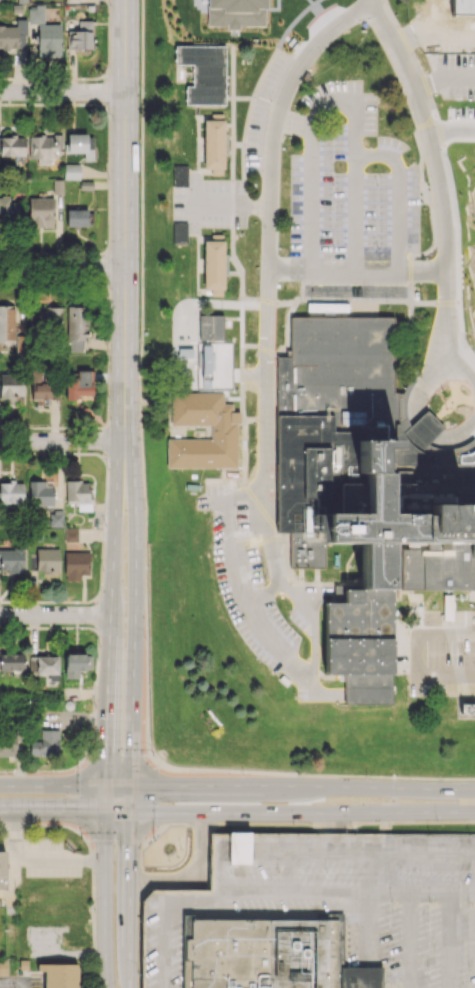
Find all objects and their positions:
building: (71, 0)
street lamp: (386, 1)
street lamp: (108, 5)
street lamp: (463, 10)
road: (428, 17)
building: (45, 33)
road: (447, 34)
building: (13, 36)
building: (80, 36)
road: (405, 39)
road: (283, 45)
parking lot: (453, 50)
street lamp: (320, 56)
road: (415, 64)
road: (233, 72)
building: (203, 74)
road: (442, 78)
street lamp: (393, 80)
street lamp: (139, 90)
road: (62, 92)
road: (243, 99)
street lamp: (268, 100)
road: (459, 102)
parking lot: (267, 112)
street lamp: (379, 119)
road: (232, 121)
road: (247, 122)
road: (451, 130)
road: (311, 142)
building: (215, 143)
building: (80, 145)
road: (238, 145)
building: (12, 146)
building: (42, 149)
street lamp: (287, 155)
road: (232, 162)
road: (243, 162)
building: (71, 171)
building: (180, 175)
street lamp: (423, 175)
street lamp: (108, 178)
street lamp: (332, 184)
street lamp: (376, 184)
road: (440, 185)
building: (57, 186)
road: (142, 188)
road: (400, 196)
parking lot: (350, 202)
parking lot: (209, 203)
road: (232, 203)
road: (221, 207)
street lamp: (424, 207)
building: (8, 209)
building: (40, 212)
road: (355, 215)
building: (76, 217)
road: (124, 220)
building: (179, 233)
street lamp: (331, 245)
street lamp: (376, 246)
street lamp: (432, 251)
street lamp: (256, 259)
road: (237, 263)
building: (215, 264)
street lamp: (139, 266)
road: (62, 267)
road: (267, 274)
road: (357, 274)
road: (410, 289)
street lamp: (300, 300)
road: (269, 301)
road: (353, 304)
street lamp: (386, 307)
building: (49, 319)
building: (6, 323)
road: (241, 323)
street lamp: (427, 325)
building: (211, 326)
building: (76, 327)
road: (411, 340)
road: (285, 347)
street lamp: (108, 354)
street lamp: (253, 358)
parking lot: (204, 373)
road: (159, 377)
road: (222, 377)
road: (242, 384)
building: (11, 385)
building: (78, 386)
building: (405, 405)
flagpole: (445, 407)
street lamp: (142, 409)
building: (332, 410)
road: (416, 412)
road: (255, 420)
building: (224, 434)
building: (417, 434)
road: (61, 440)
street lamp: (253, 443)
road: (245, 450)
building: (446, 453)
street lamp: (105, 468)
road: (226, 480)
street lamp: (237, 485)
building: (11, 492)
building: (40, 493)
road: (246, 493)
building: (78, 494)
road: (216, 501)
road: (260, 506)
street lamp: (144, 508)
street lamp: (209, 513)
road: (251, 513)
building: (55, 518)
road: (113, 527)
street lamp: (239, 529)
road: (260, 533)
building: (69, 534)
road: (232, 551)
street lamp: (286, 555)
building: (391, 555)
building: (47, 559)
building: (11, 560)
building: (76, 564)
road: (146, 565)
street lamp: (101, 568)
street lamp: (312, 578)
street lamp: (266, 579)
parking lot: (250, 582)
road: (286, 588)
street lamp: (217, 593)
road: (265, 593)
road: (302, 594)
road: (323, 595)
street lamp: (470, 604)
road: (302, 607)
road: (313, 607)
building: (447, 607)
road: (133, 612)
road: (55, 615)
street lamp: (290, 623)
road: (423, 633)
street lamp: (145, 638)
road: (275, 645)
road: (314, 647)
street lamp: (462, 651)
parking lot: (442, 653)
building: (12, 661)
street lamp: (257, 661)
building: (76, 664)
building: (47, 666)
road: (445, 677)
street lamp: (293, 692)
road: (320, 696)
road: (105, 699)
street lamp: (94, 705)
building: (45, 743)
building: (7, 745)
traffic signals: (105, 753)
street lamp: (154, 754)
street lamp: (78, 758)
road: (310, 774)
street lamp: (242, 775)
street lamp: (366, 779)
road: (52, 785)
road: (117, 785)
traffic signals: (158, 785)
road: (211, 785)
road: (383, 787)
road: (104, 798)
road: (130, 798)
road: (52, 811)
traffic signals: (74, 811)
road: (117, 811)
road: (302, 812)
street lamp: (436, 819)
road: (334, 822)
street lamp: (31, 825)
street lamp: (295, 825)
street lamp: (152, 837)
street lamp: (80, 839)
traffic signals: (130, 843)
flagpole: (180, 848)
road: (223, 852)
road: (239, 852)
road: (274, 852)
road: (385, 853)
flagpole: (176, 856)
flagpole: (168, 859)
building: (2, 868)
road: (217, 870)
road: (289, 871)
road: (380, 872)
road: (195, 876)
road: (130, 889)
road: (249, 889)
road: (330, 890)
road: (427, 891)
road: (104, 899)
street lamp: (92, 910)
road: (164, 914)
building: (320, 914)
parking lot: (320, 914)
road: (366, 939)
road: (409, 939)
road: (449, 940)
building: (23, 964)
building: (4, 966)
building: (59, 974)
road: (130, 977)
road: (12, 984)
road: (24, 986)

